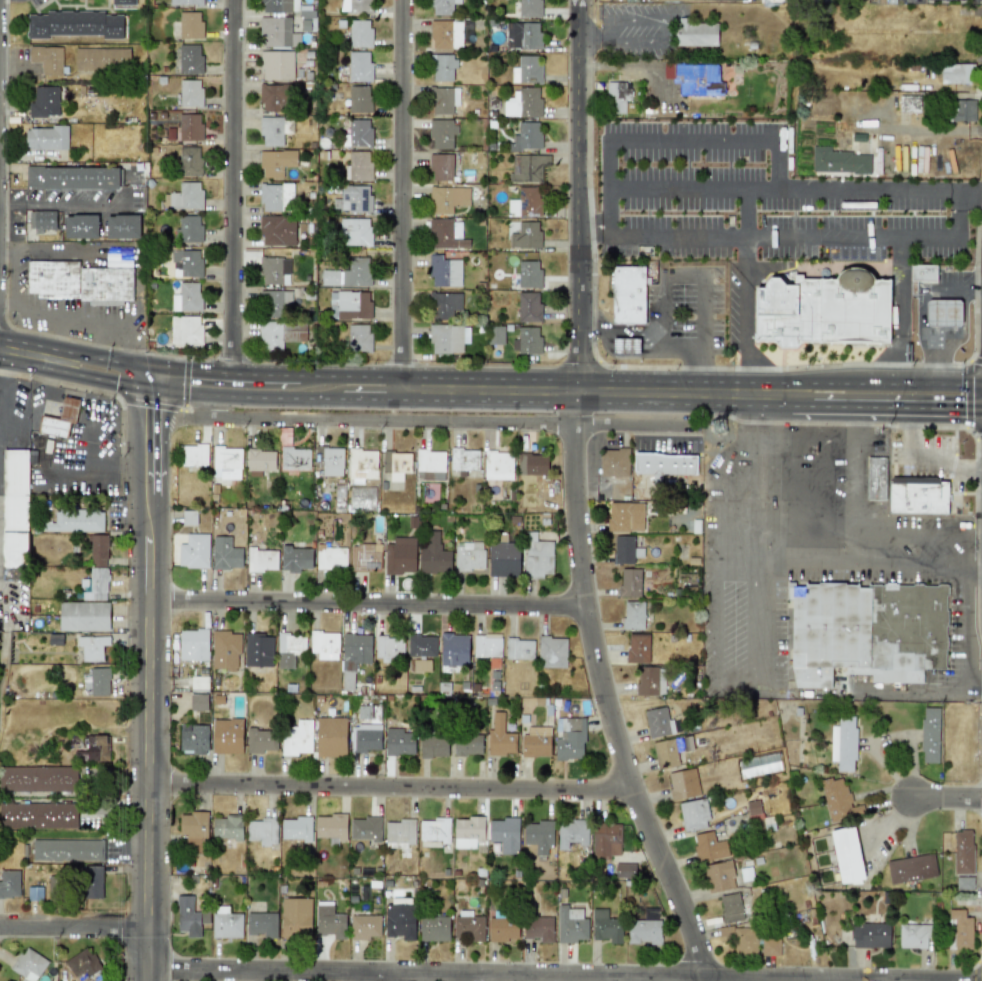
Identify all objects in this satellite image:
building: (120, 2)
building: (184, 2)
building: (279, 6)
building: (442, 6)
building: (360, 7)
building: (531, 8)
building: (73, 24)
building: (190, 24)
road: (670, 31)
building: (277, 32)
building: (694, 32)
building: (360, 33)
building: (445, 34)
building: (530, 36)
building: (189, 58)
building: (47, 59)
building: (101, 59)
building: (276, 65)
building: (360, 66)
road: (631, 66)
building: (442, 67)
building: (528, 70)
building: (956, 73)
building: (694, 78)
building: (190, 93)
building: (616, 96)
building: (273, 97)
building: (360, 99)
building: (443, 99)
building: (44, 102)
building: (524, 103)
building: (909, 103)
building: (963, 110)
building: (189, 126)
building: (272, 130)
building: (357, 133)
building: (441, 133)
building: (526, 136)
building: (46, 138)
road: (754, 139)
building: (190, 161)
building: (839, 161)
building: (275, 162)
building: (359, 165)
building: (440, 166)
building: (527, 167)
building: (73, 178)
road: (866, 191)
road: (970, 191)
road: (231, 193)
road: (401, 194)
building: (186, 196)
building: (276, 197)
building: (352, 198)
building: (447, 198)
road: (6, 199)
road: (85, 200)
parking lot: (765, 200)
building: (525, 202)
road: (748, 213)
building: (42, 220)
building: (80, 226)
building: (122, 226)
building: (188, 228)
building: (277, 230)
building: (354, 231)
building: (444, 232)
road: (594, 234)
road: (736, 234)
building: (525, 235)
road: (877, 238)
road: (65, 251)
building: (116, 258)
building: (186, 263)
building: (274, 270)
building: (443, 271)
building: (922, 272)
building: (349, 273)
building: (529, 274)
building: (79, 282)
building: (628, 295)
building: (186, 297)
building: (276, 302)
road: (6, 303)
building: (443, 304)
building: (349, 305)
building: (528, 306)
building: (824, 310)
road: (903, 311)
building: (943, 312)
gas station: (943, 312)
road: (921, 317)
road: (62, 320)
road: (660, 325)
road: (964, 325)
building: (185, 330)
road: (697, 331)
road: (621, 333)
building: (279, 334)
building: (495, 335)
building: (359, 337)
road: (59, 338)
building: (448, 338)
building: (526, 340)
road: (97, 346)
road: (75, 360)
road: (2, 367)
road: (746, 371)
road: (868, 384)
road: (453, 389)
road: (868, 407)
building: (60, 418)
road: (435, 420)
power tower: (725, 426)
building: (193, 455)
building: (226, 457)
parking lot: (926, 458)
building: (260, 459)
building: (294, 459)
building: (464, 459)
road: (924, 459)
building: (329, 460)
building: (430, 460)
building: (497, 461)
building: (396, 462)
building: (614, 462)
building: (361, 464)
building: (532, 464)
building: (663, 464)
road: (854, 468)
road: (84, 476)
building: (876, 478)
building: (917, 497)
road: (575, 500)
building: (14, 504)
building: (625, 517)
building: (188, 518)
building: (74, 520)
road: (877, 530)
building: (97, 550)
building: (625, 550)
building: (194, 551)
building: (225, 554)
building: (366, 556)
building: (400, 556)
building: (434, 556)
building: (537, 556)
building: (330, 557)
building: (295, 559)
building: (468, 559)
building: (261, 560)
building: (503, 560)
road: (973, 576)
building: (629, 583)
building: (96, 584)
road: (367, 601)
building: (84, 616)
building: (633, 616)
building: (867, 632)
building: (193, 644)
building: (324, 645)
building: (421, 645)
building: (486, 646)
building: (92, 647)
building: (289, 648)
building: (356, 648)
building: (388, 648)
building: (638, 648)
building: (225, 649)
building: (519, 649)
building: (258, 650)
building: (453, 650)
building: (551, 652)
road: (150, 680)
building: (99, 681)
building: (650, 681)
road: (974, 681)
building: (199, 682)
road: (882, 695)
building: (198, 702)
building: (657, 722)
building: (929, 735)
building: (227, 736)
building: (331, 737)
building: (500, 737)
building: (296, 738)
building: (365, 738)
building: (194, 739)
building: (570, 739)
building: (260, 740)
building: (398, 742)
building: (843, 743)
building: (467, 744)
building: (535, 745)
building: (433, 746)
building: (96, 748)
building: (665, 753)
building: (38, 778)
road: (116, 784)
building: (683, 784)
road: (390, 785)
building: (837, 800)
road: (951, 800)
road: (115, 806)
building: (753, 809)
building: (38, 814)
building: (693, 814)
road: (893, 819)
building: (228, 826)
building: (331, 826)
building: (296, 828)
building: (365, 828)
building: (469, 828)
building: (262, 830)
building: (435, 830)
building: (400, 831)
building: (194, 832)
building: (571, 833)
building: (505, 834)
building: (539, 835)
building: (605, 840)
building: (708, 847)
building: (67, 850)
building: (963, 852)
building: (847, 855)
building: (911, 868)
building: (625, 870)
building: (719, 876)
building: (91, 882)
building: (9, 883)
building: (964, 883)
building: (34, 893)
power tower: (801, 896)
building: (730, 907)
building: (189, 916)
building: (295, 917)
building: (400, 920)
building: (329, 922)
building: (261, 924)
building: (226, 925)
building: (606, 926)
road: (75, 927)
building: (364, 927)
building: (469, 927)
building: (570, 927)
building: (538, 928)
building: (434, 929)
building: (503, 929)
building: (958, 930)
building: (643, 931)
building: (870, 935)
building: (914, 935)
building: (744, 941)
building: (770, 947)
building: (82, 963)
building: (28, 964)
road: (565, 973)

